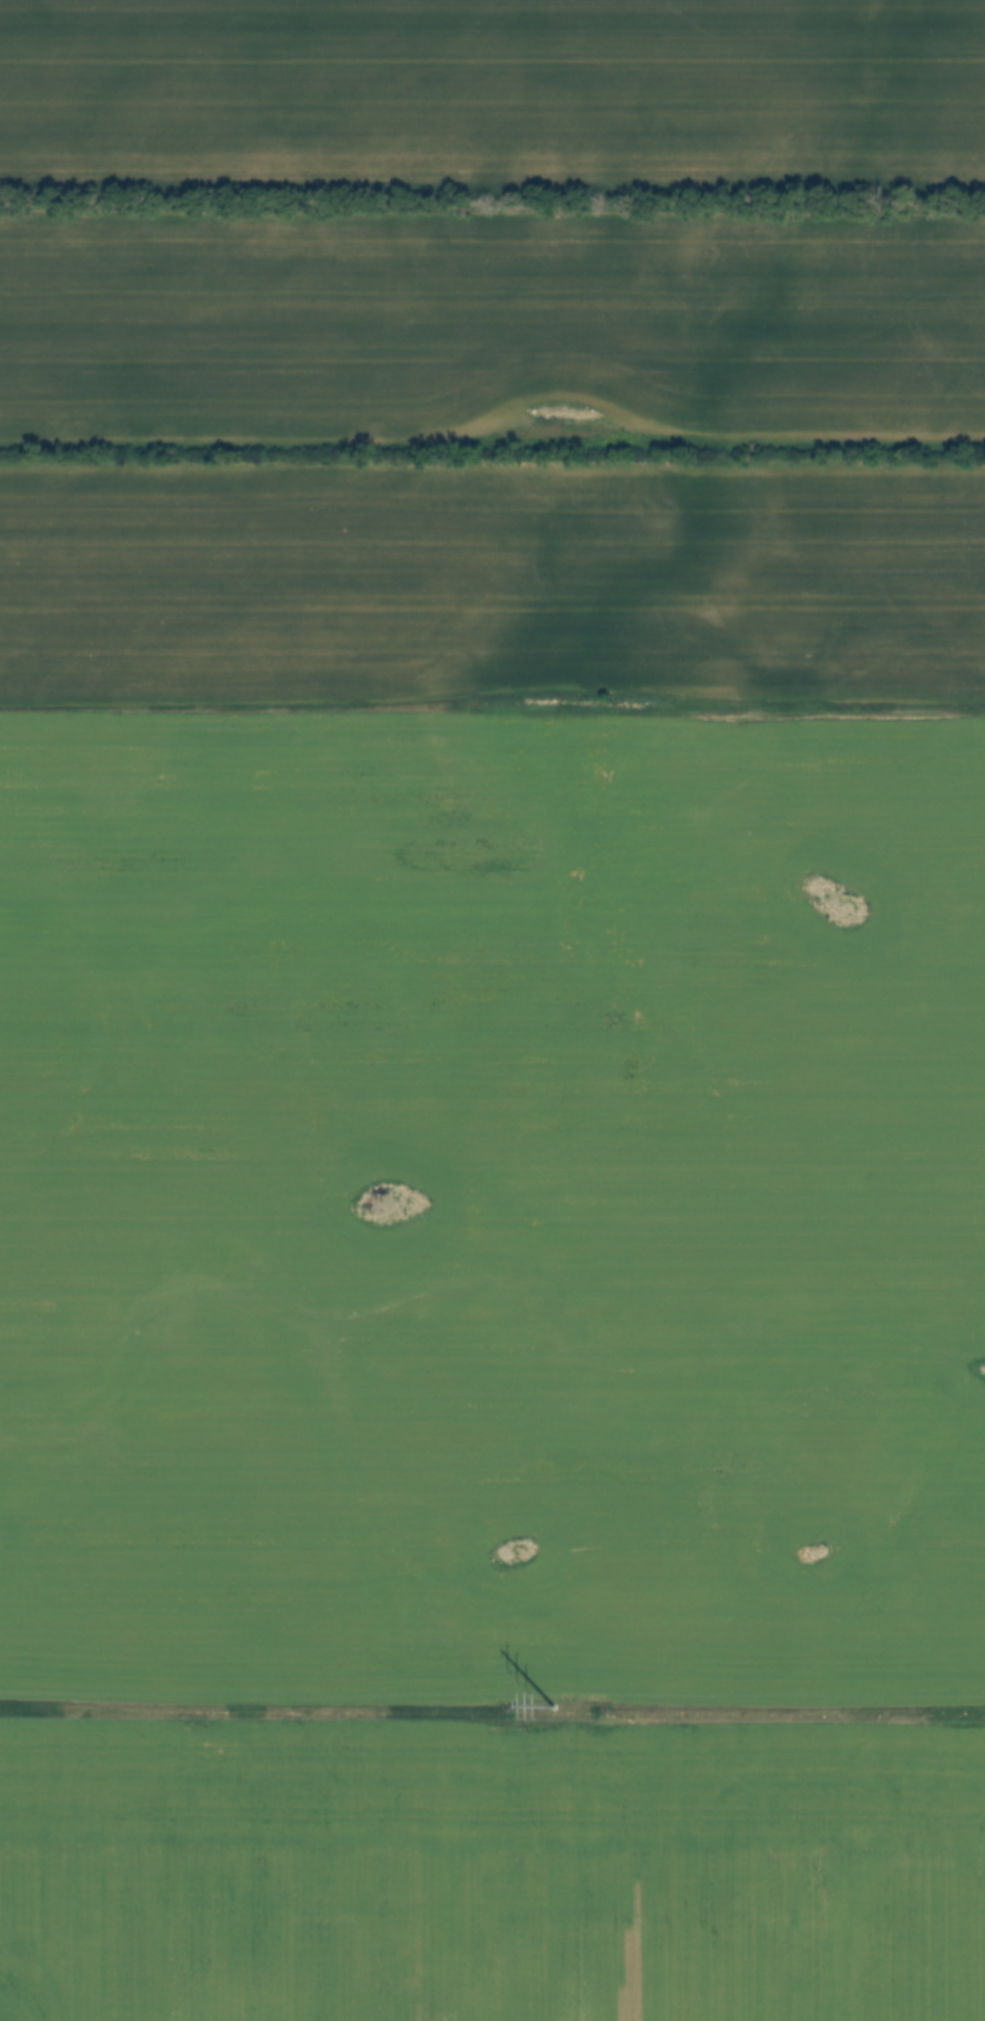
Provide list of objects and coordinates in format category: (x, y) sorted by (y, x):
power tower: (552, 1705)

